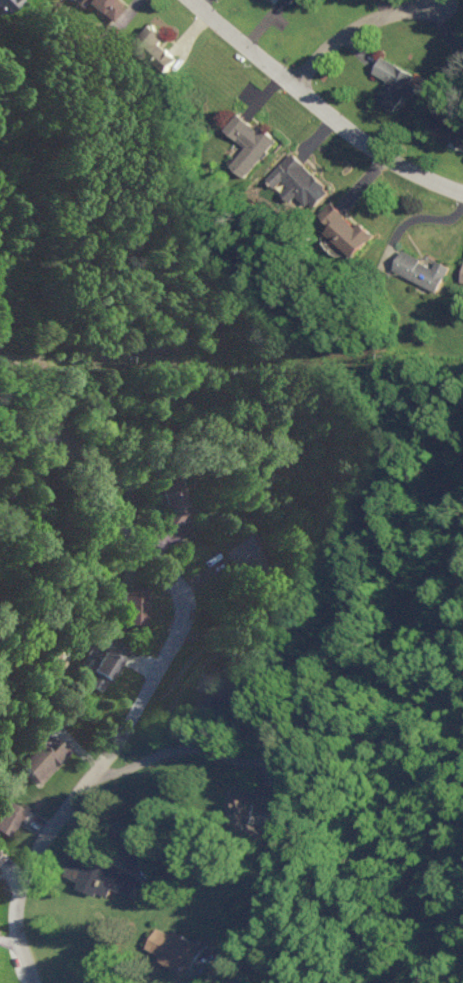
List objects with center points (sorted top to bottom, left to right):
building: (289, 0)
building: (4, 3)
building: (105, 6)
road: (356, 26)
building: (155, 44)
building: (394, 81)
road: (321, 109)
building: (448, 127)
building: (248, 141)
building: (298, 179)
building: (346, 226)
building: (421, 269)
building: (462, 277)
park: (32, 450)
road: (27, 472)
road: (94, 486)
building: (172, 498)
building: (242, 552)
building: (131, 604)
building: (103, 660)
building: (216, 689)
building: (46, 739)
road: (179, 745)
building: (40, 759)
road: (79, 785)
building: (251, 806)
building: (12, 814)
building: (0, 857)
building: (99, 874)
building: (172, 946)
building: (236, 979)

